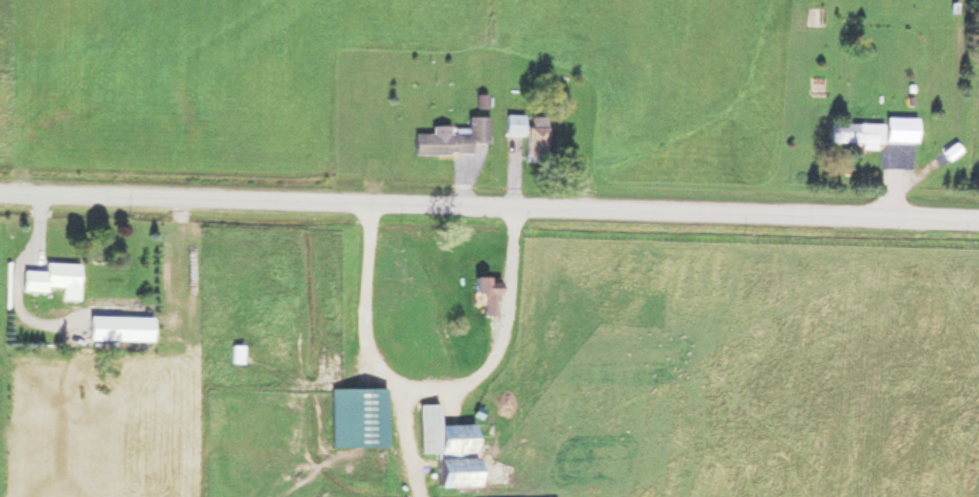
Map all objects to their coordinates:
building: (896, 127)
building: (525, 130)
building: (853, 132)
building: (448, 136)
road: (489, 204)
building: (48, 277)
building: (485, 292)
building: (98, 325)
building: (355, 415)
building: (444, 445)

